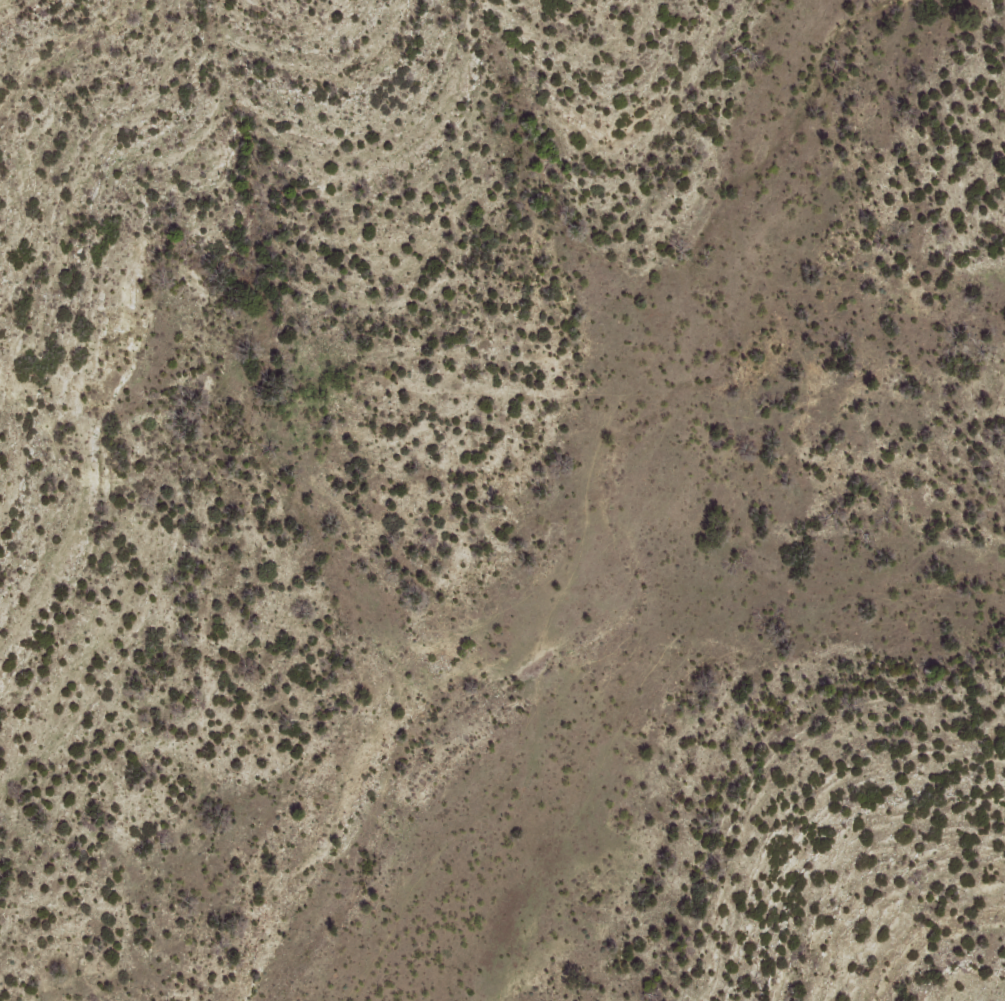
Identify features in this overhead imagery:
road: (8, 29)

